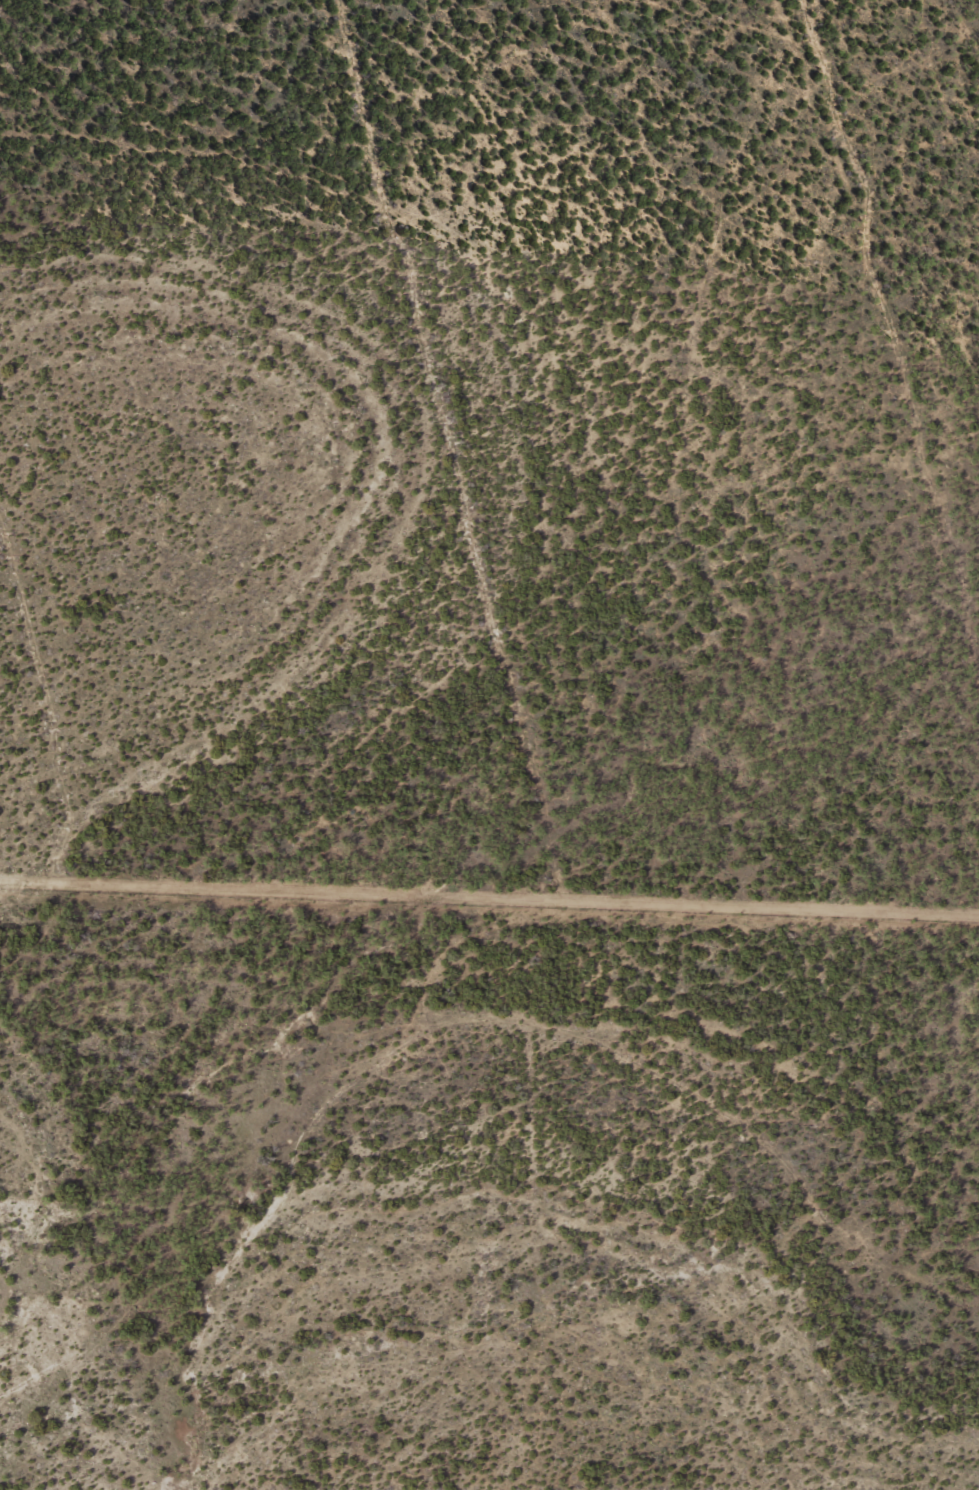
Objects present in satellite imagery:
road: (451, 1056)

